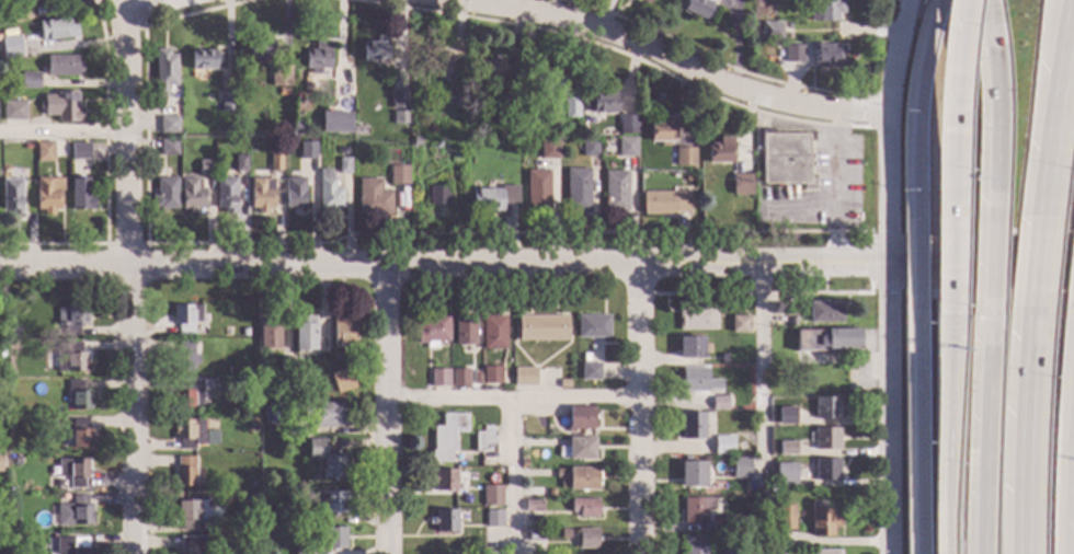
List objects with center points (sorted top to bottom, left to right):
building: (33, 1)
building: (697, 8)
building: (824, 11)
road: (163, 12)
building: (19, 13)
building: (788, 25)
building: (58, 30)
building: (769, 31)
building: (10, 33)
building: (807, 45)
building: (11, 46)
building: (260, 46)
building: (376, 50)
road: (952, 53)
building: (793, 54)
road: (660, 55)
building: (827, 56)
building: (317, 57)
building: (204, 59)
building: (431, 61)
building: (64, 66)
building: (488, 69)
building: (164, 71)
building: (279, 76)
building: (30, 80)
building: (547, 84)
building: (336, 89)
building: (283, 91)
building: (512, 93)
building: (399, 99)
building: (603, 101)
building: (227, 102)
building: (452, 102)
building: (62, 106)
road: (987, 106)
building: (571, 107)
building: (14, 109)
road: (912, 109)
road: (1054, 109)
building: (515, 112)
building: (399, 118)
building: (168, 122)
building: (335, 124)
building: (627, 125)
building: (356, 129)
building: (661, 130)
road: (889, 130)
road: (66, 132)
building: (415, 141)
building: (169, 147)
building: (627, 147)
building: (549, 148)
building: (590, 148)
building: (341, 149)
building: (307, 150)
building: (45, 151)
building: (80, 151)
building: (720, 151)
building: (684, 157)
building: (785, 160)
building: (275, 162)
building: (240, 163)
building: (343, 165)
building: (206, 168)
building: (397, 174)
building: (688, 177)
building: (743, 186)
road: (835, 186)
building: (537, 189)
building: (578, 191)
building: (329, 192)
building: (615, 192)
building: (48, 194)
building: (81, 194)
building: (165, 194)
building: (12, 195)
building: (226, 195)
building: (261, 195)
building: (295, 195)
building: (435, 195)
building: (193, 196)
building: (373, 198)
building: (492, 198)
building: (664, 203)
road: (799, 206)
road: (950, 218)
road: (444, 263)
road: (981, 264)
road: (1032, 268)
road: (984, 269)
road: (910, 270)
road: (129, 276)
building: (779, 309)
building: (824, 312)
building: (185, 318)
building: (72, 319)
building: (696, 319)
building: (739, 324)
building: (592, 326)
building: (541, 328)
building: (432, 331)
building: (465, 331)
building: (14, 332)
building: (243, 333)
building: (270, 333)
building: (343, 333)
building: (492, 333)
building: (305, 336)
building: (825, 339)
building: (689, 348)
building: (2, 354)
building: (184, 357)
building: (583, 357)
building: (68, 358)
building: (285, 365)
building: (231, 370)
building: (589, 371)
building: (491, 374)
building: (523, 377)
building: (438, 378)
building: (459, 379)
building: (342, 381)
building: (696, 381)
building: (563, 384)
building: (727, 385)
building: (302, 392)
road: (761, 392)
building: (190, 394)
building: (80, 396)
road: (513, 396)
building: (68, 402)
building: (718, 403)
building: (247, 404)
road: (641, 407)
road: (386, 408)
building: (825, 408)
road: (889, 408)
building: (323, 414)
building: (786, 416)
building: (580, 418)
building: (54, 420)
building: (692, 426)
building: (293, 428)
building: (188, 434)
building: (81, 435)
road: (1020, 435)
building: (447, 437)
road: (910, 437)
building: (824, 439)
road: (979, 439)
building: (483, 440)
road: (946, 441)
road: (1073, 441)
building: (722, 446)
building: (740, 447)
building: (786, 448)
building: (578, 449)
building: (16, 460)
building: (325, 460)
building: (0, 462)
building: (523, 464)
building: (740, 469)
building: (825, 470)
building: (75, 471)
building: (184, 471)
building: (692, 474)
building: (784, 474)
road: (511, 475)
building: (582, 478)
building: (444, 481)
building: (253, 485)
building: (550, 493)
building: (815, 493)
building: (491, 496)
building: (251, 499)
building: (329, 503)
road: (1072, 504)
building: (532, 506)
building: (583, 507)
building: (696, 509)
building: (75, 512)
building: (193, 512)
building: (306, 518)
building: (784, 518)
building: (493, 519)
building: (820, 520)
building: (444, 521)
building: (719, 523)
building: (13, 526)
building: (563, 534)
building: (535, 535)
building: (2, 539)
building: (333, 539)
building: (585, 539)
building: (14, 540)
building: (696, 544)
building: (71, 545)
building: (190, 545)
building: (302, 545)
building: (490, 552)
building: (733, 552)
building: (824, 552)

